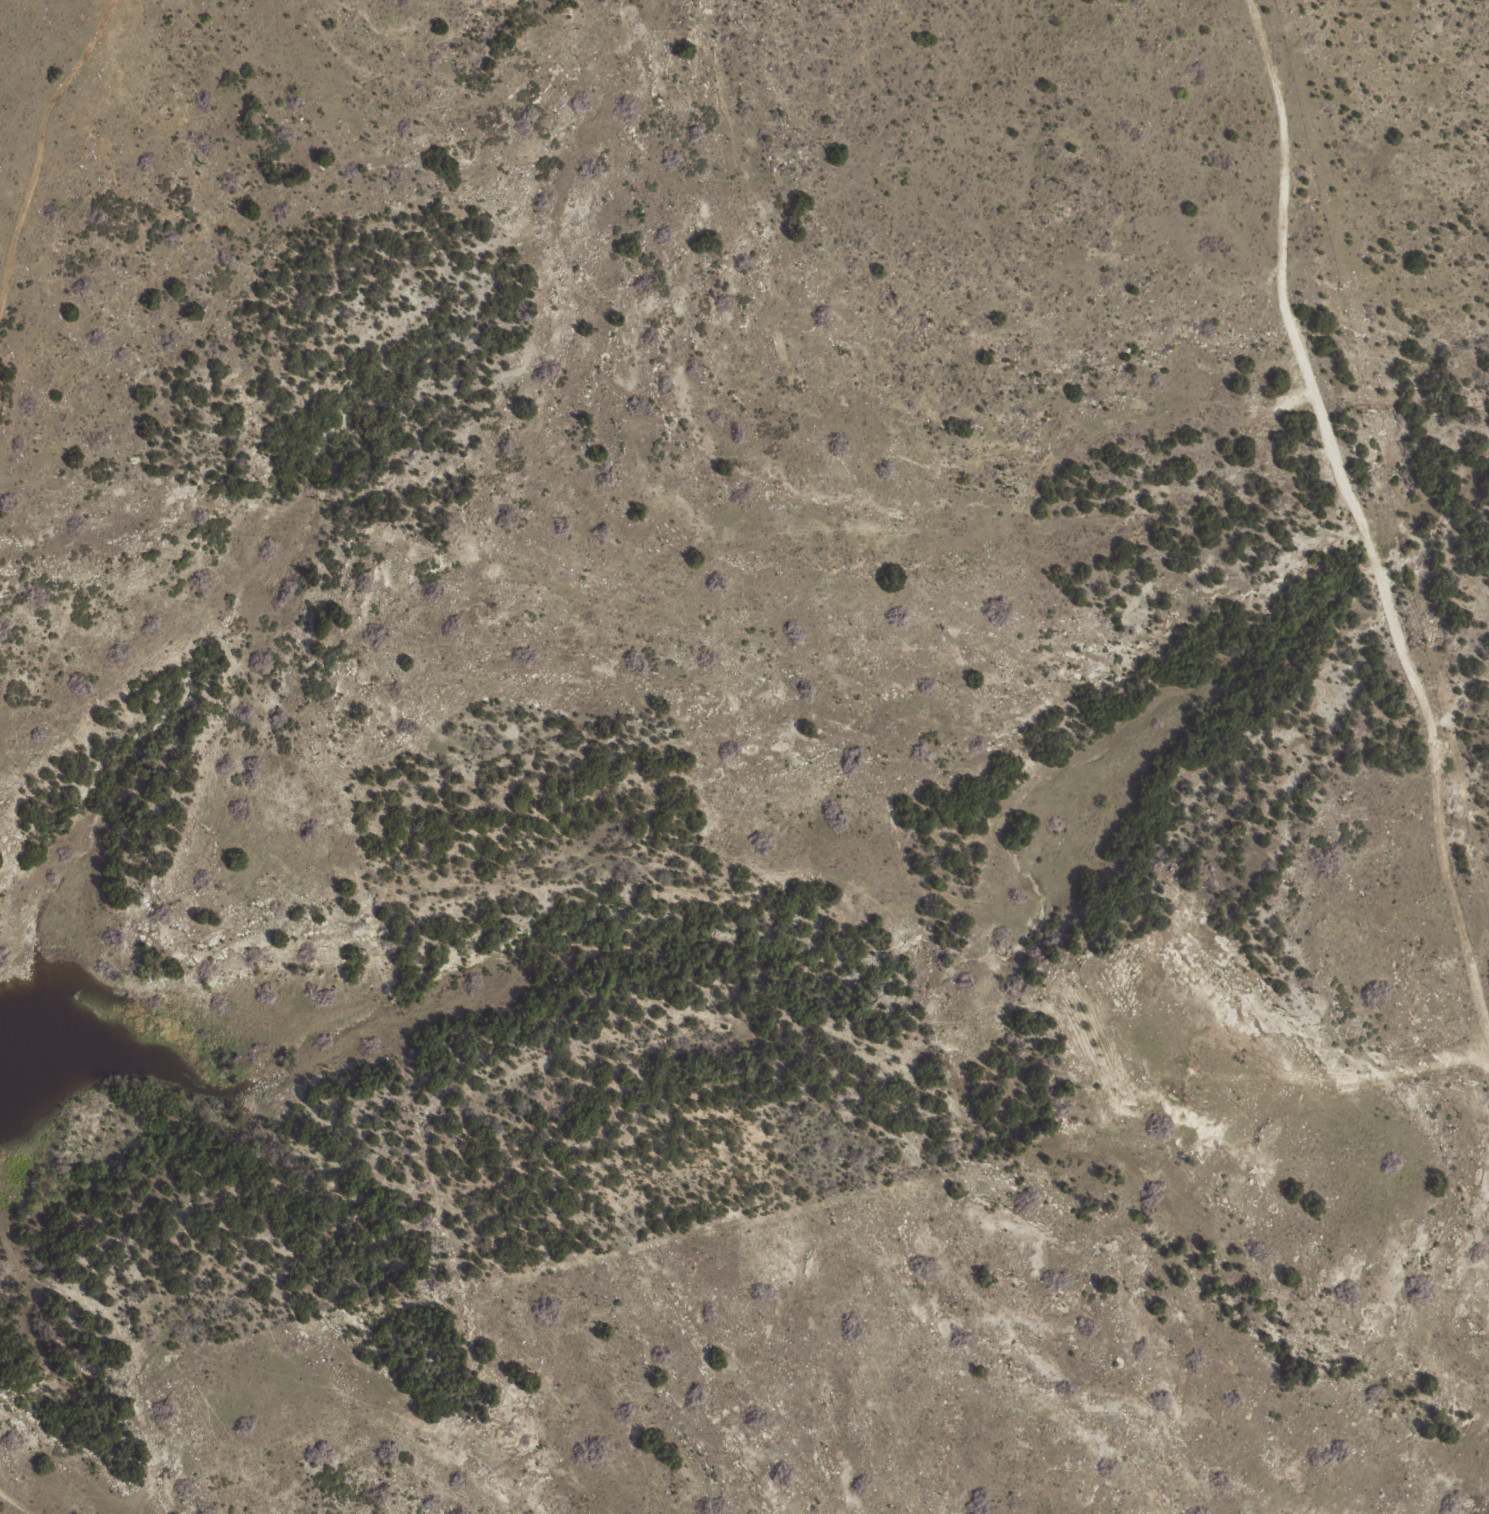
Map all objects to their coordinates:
road: (63, 202)
road: (1296, 552)
road: (24, 1488)
road: (1481, 1512)

